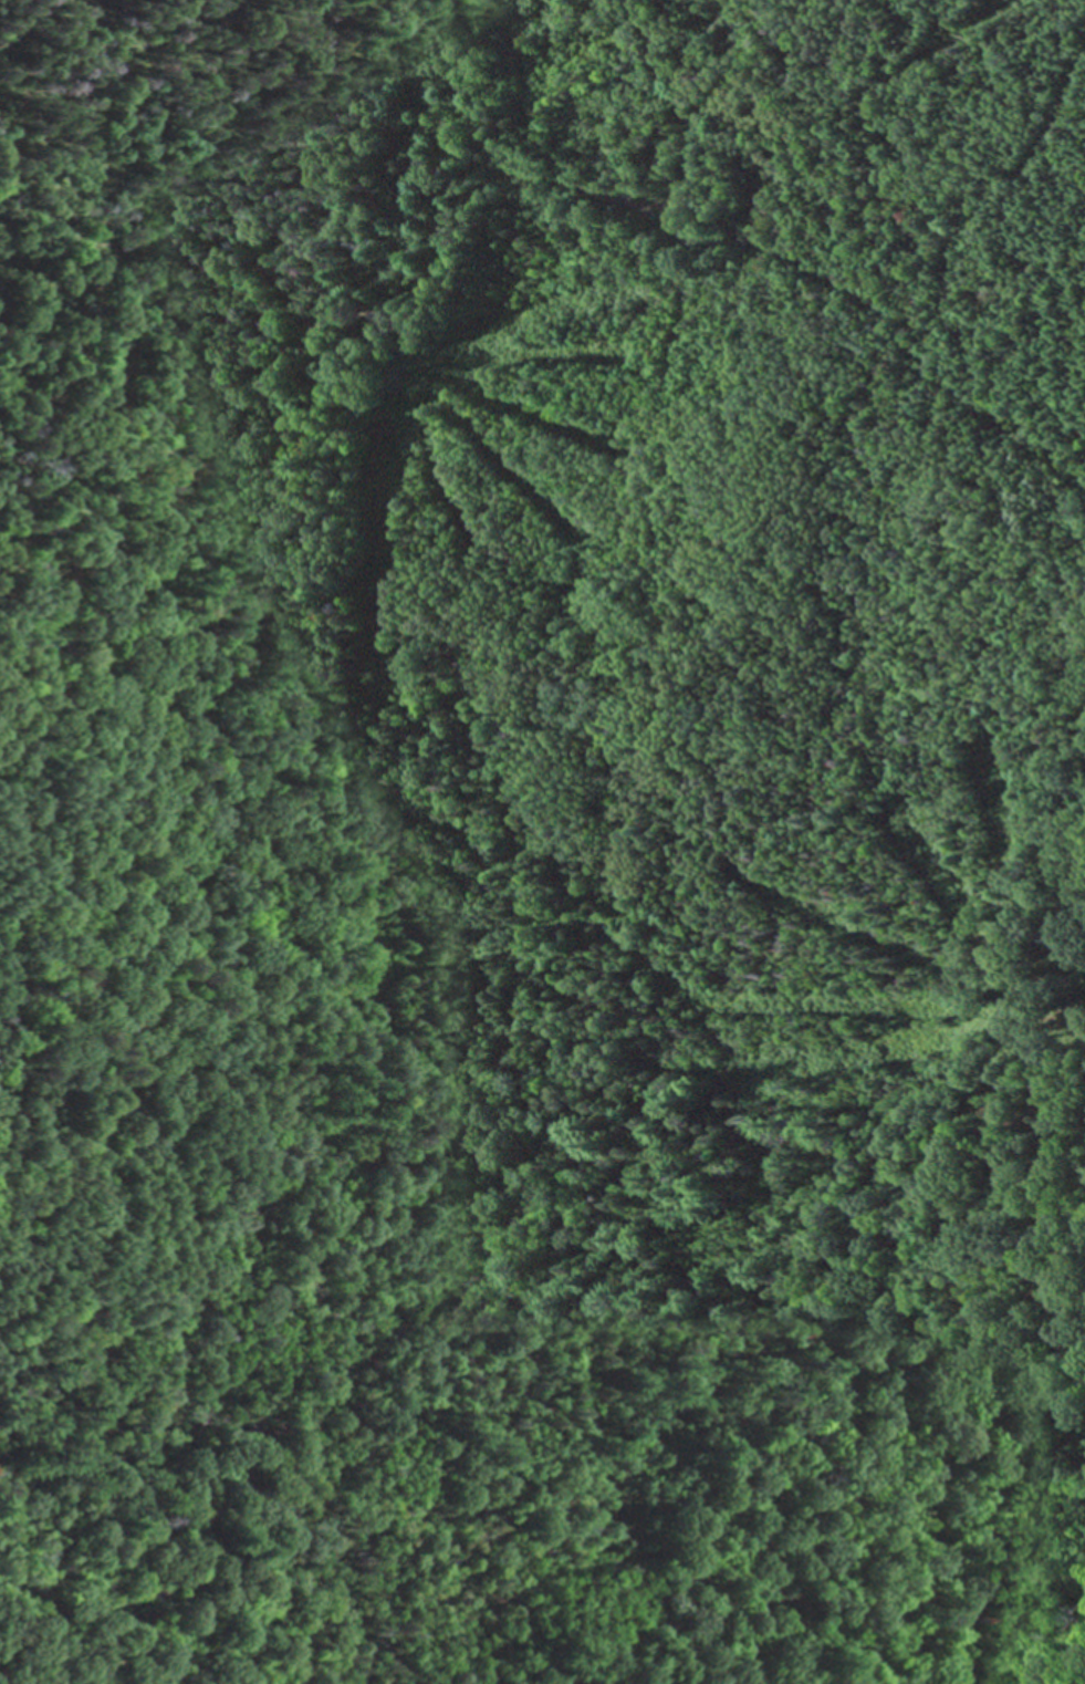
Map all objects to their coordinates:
road: (678, 107)

